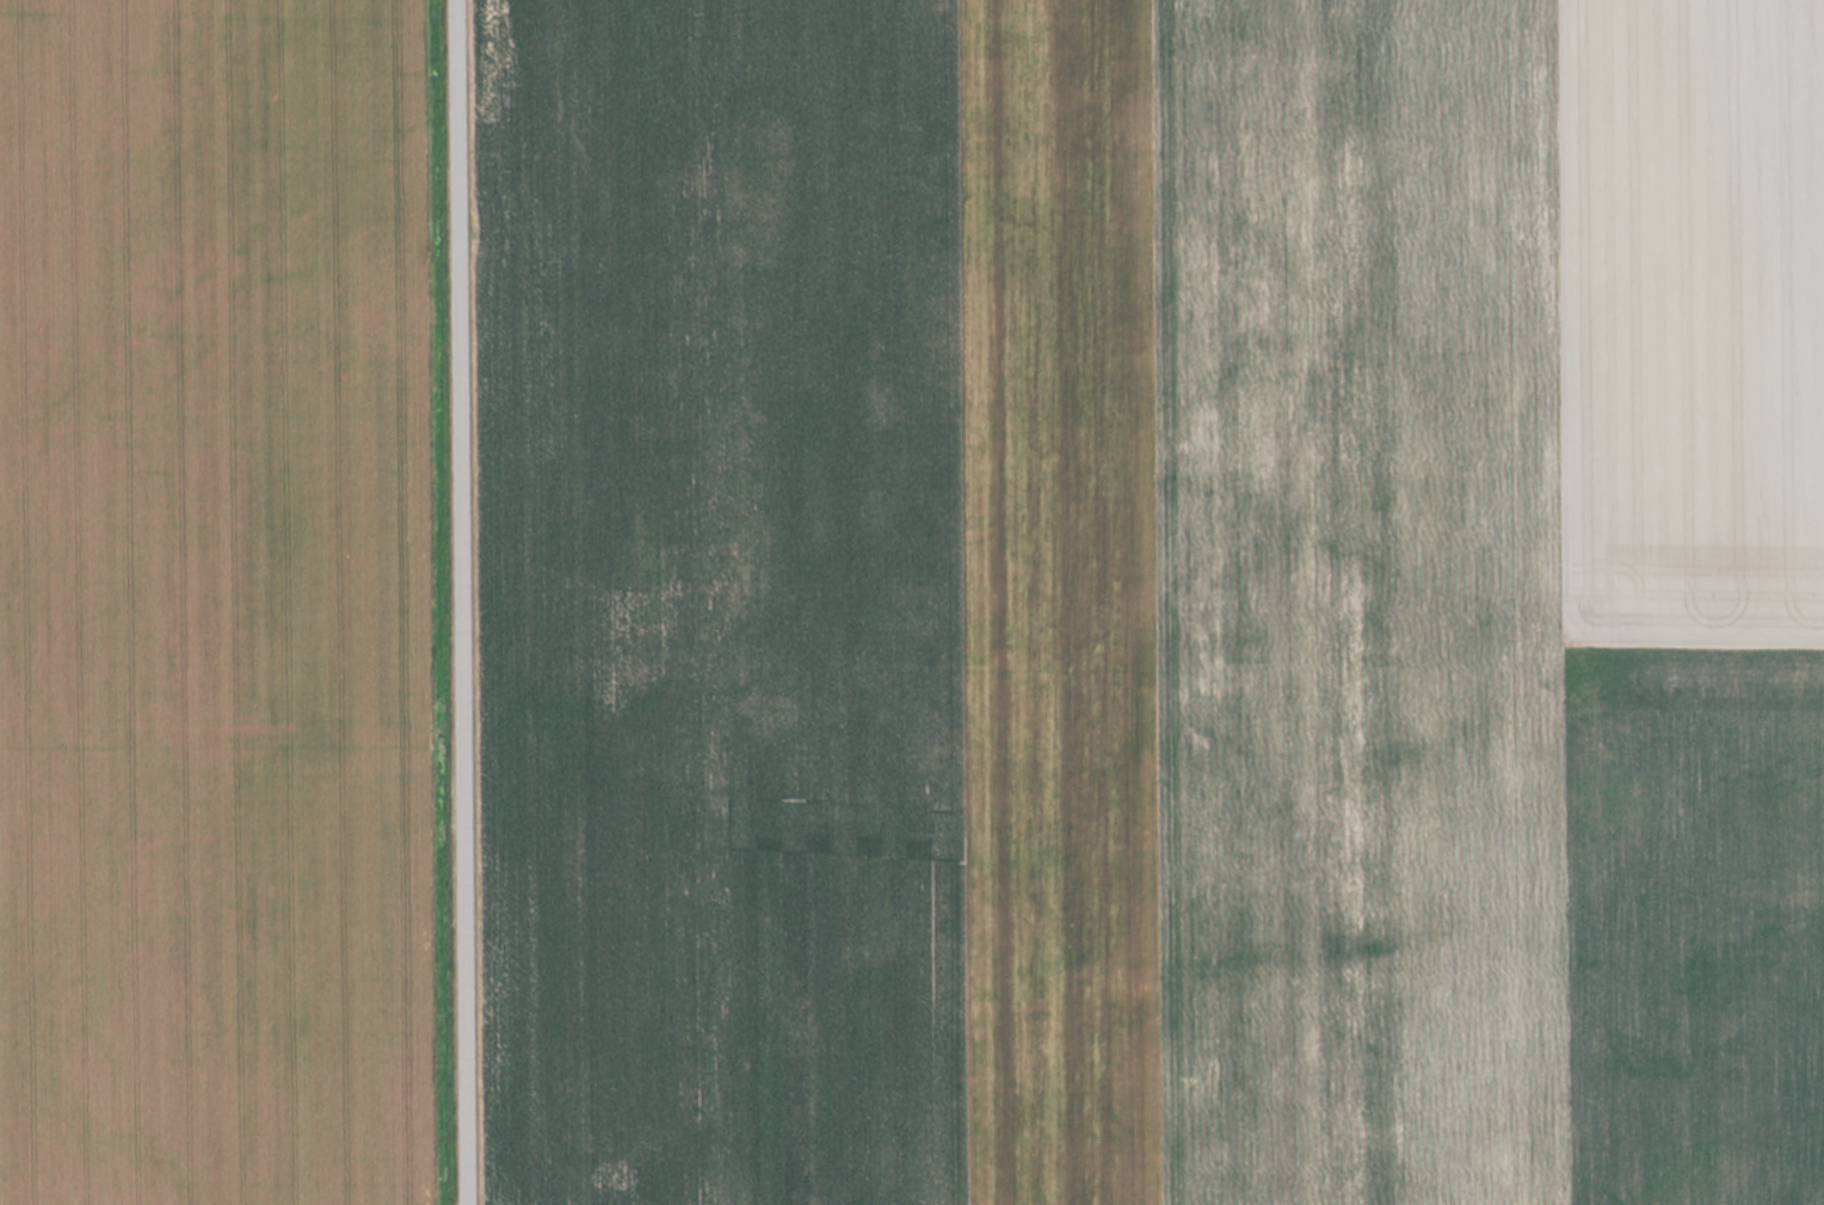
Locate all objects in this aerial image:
road: (461, 602)

